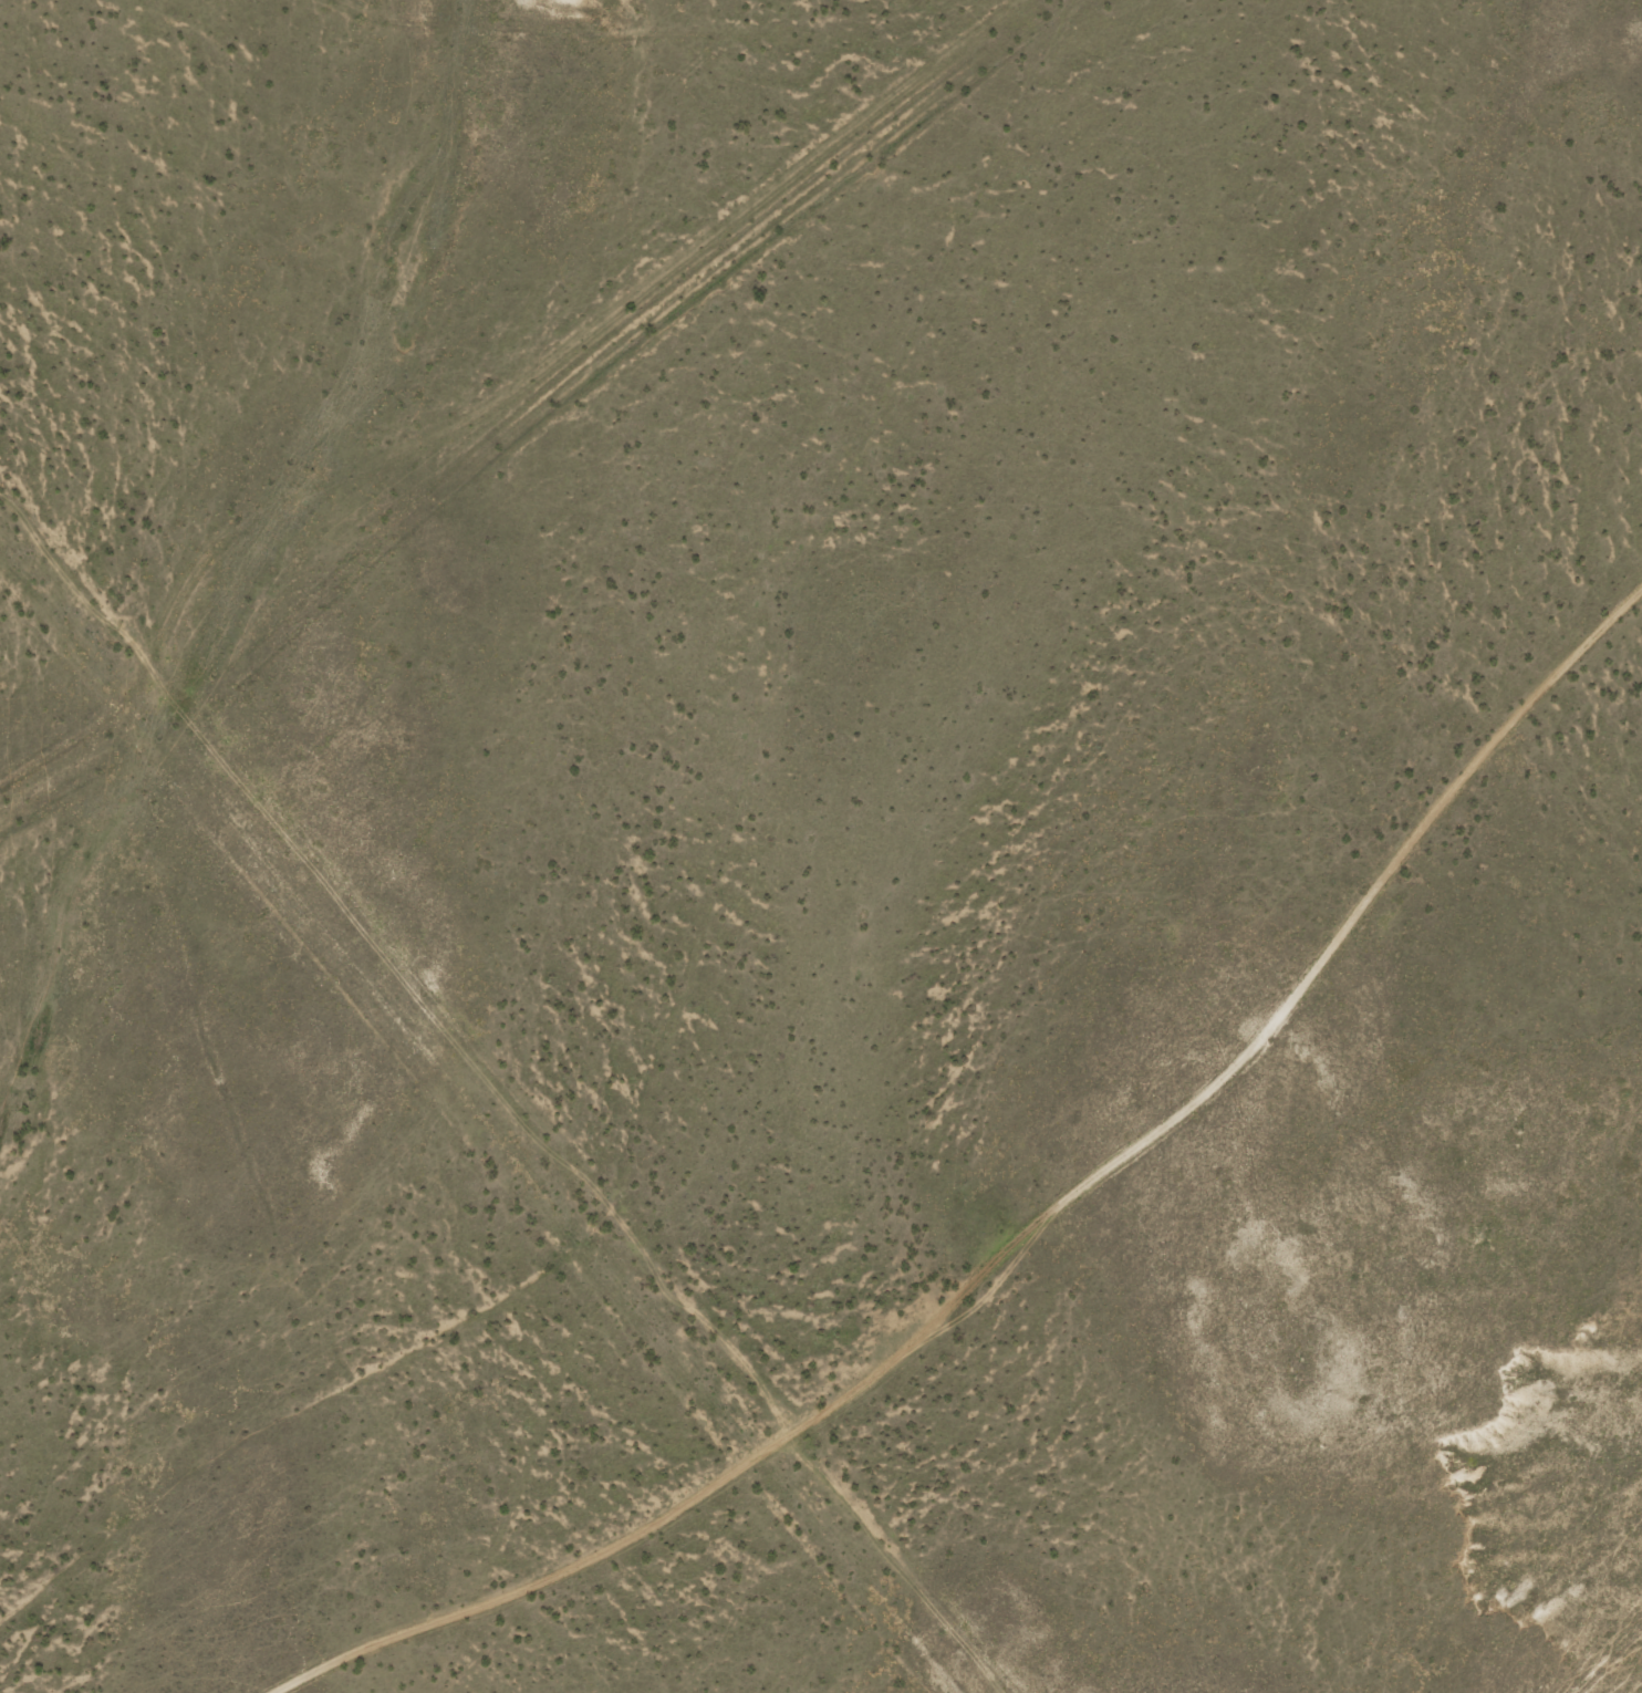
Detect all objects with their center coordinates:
road: (444, 293)

